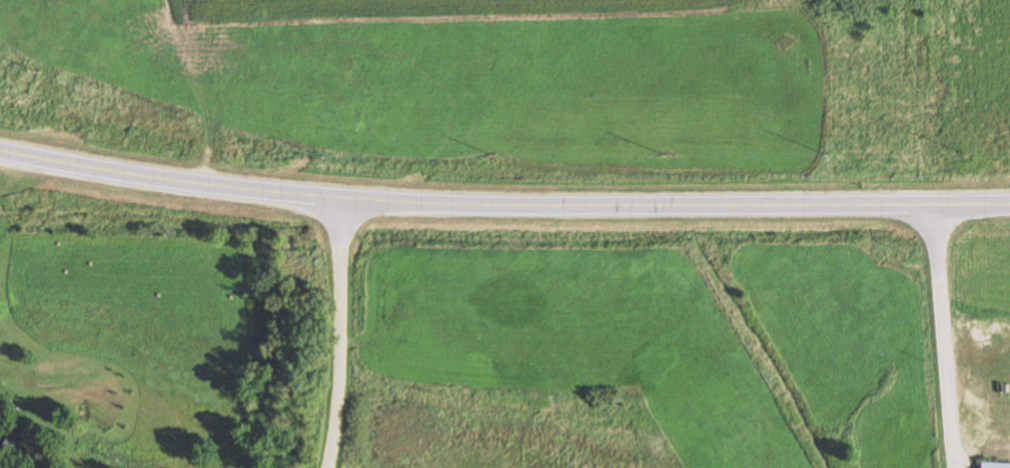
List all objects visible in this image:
road: (503, 202)
road: (341, 334)
road: (941, 335)
building: (19, 430)
building: (994, 465)

